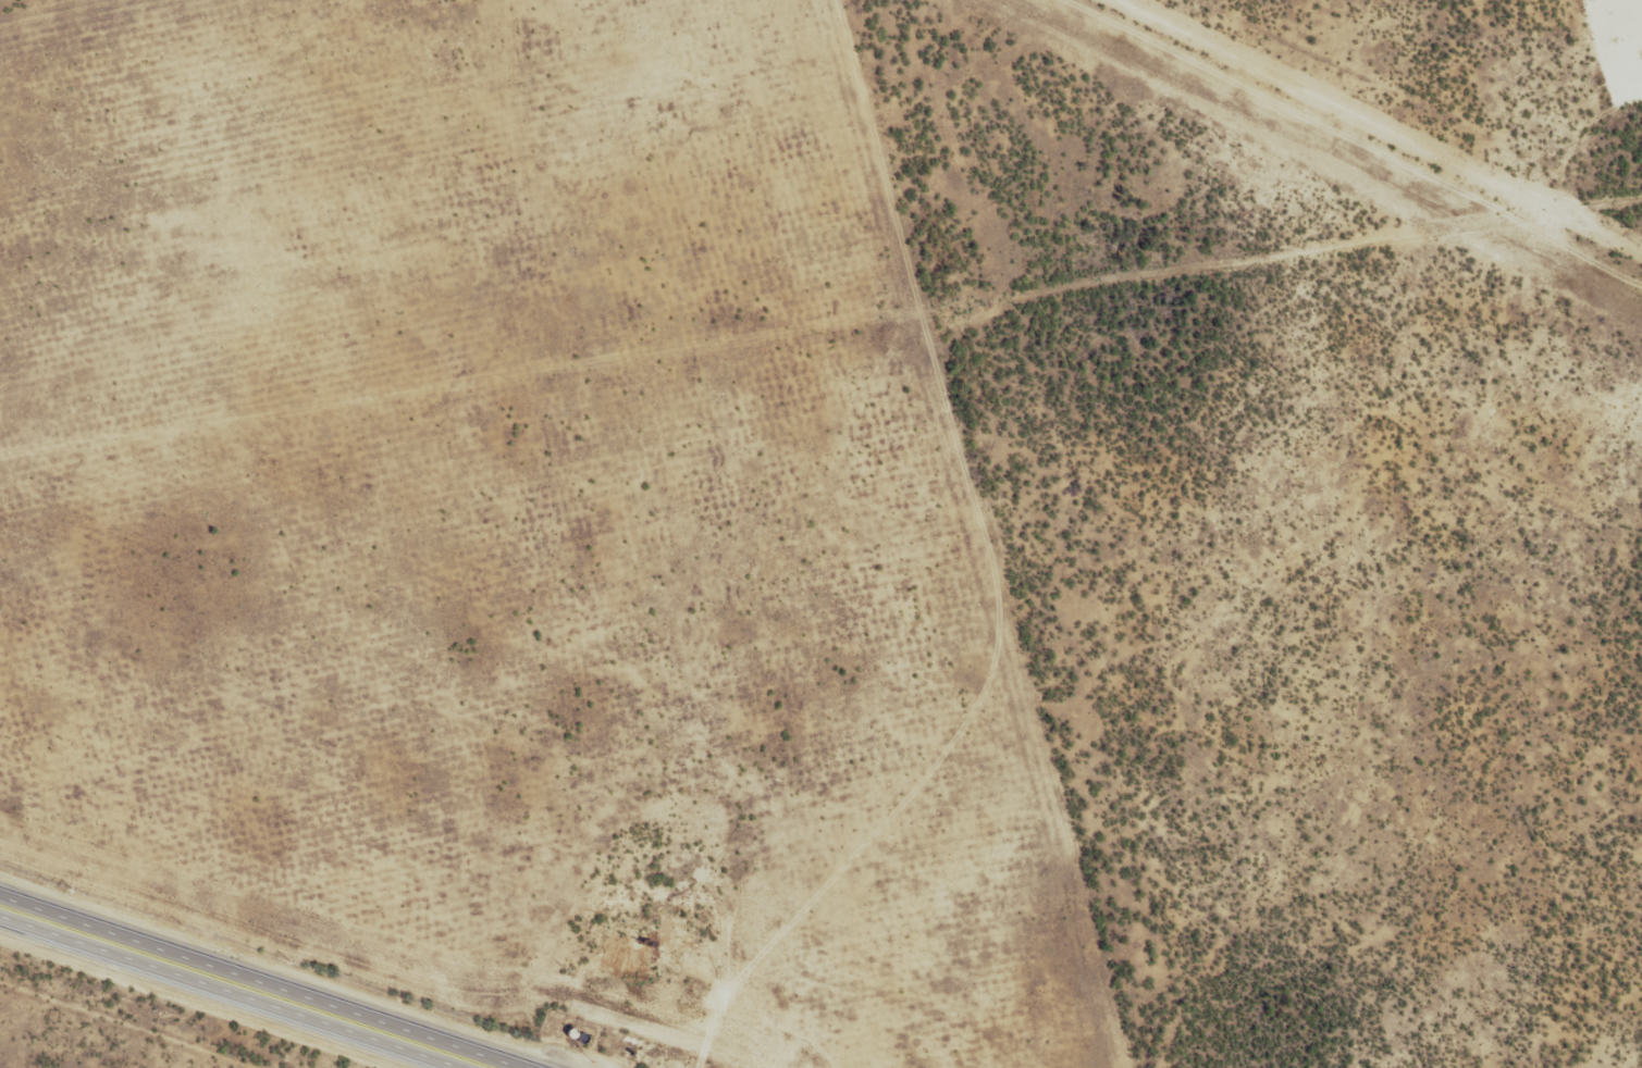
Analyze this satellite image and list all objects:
road: (250, 988)

